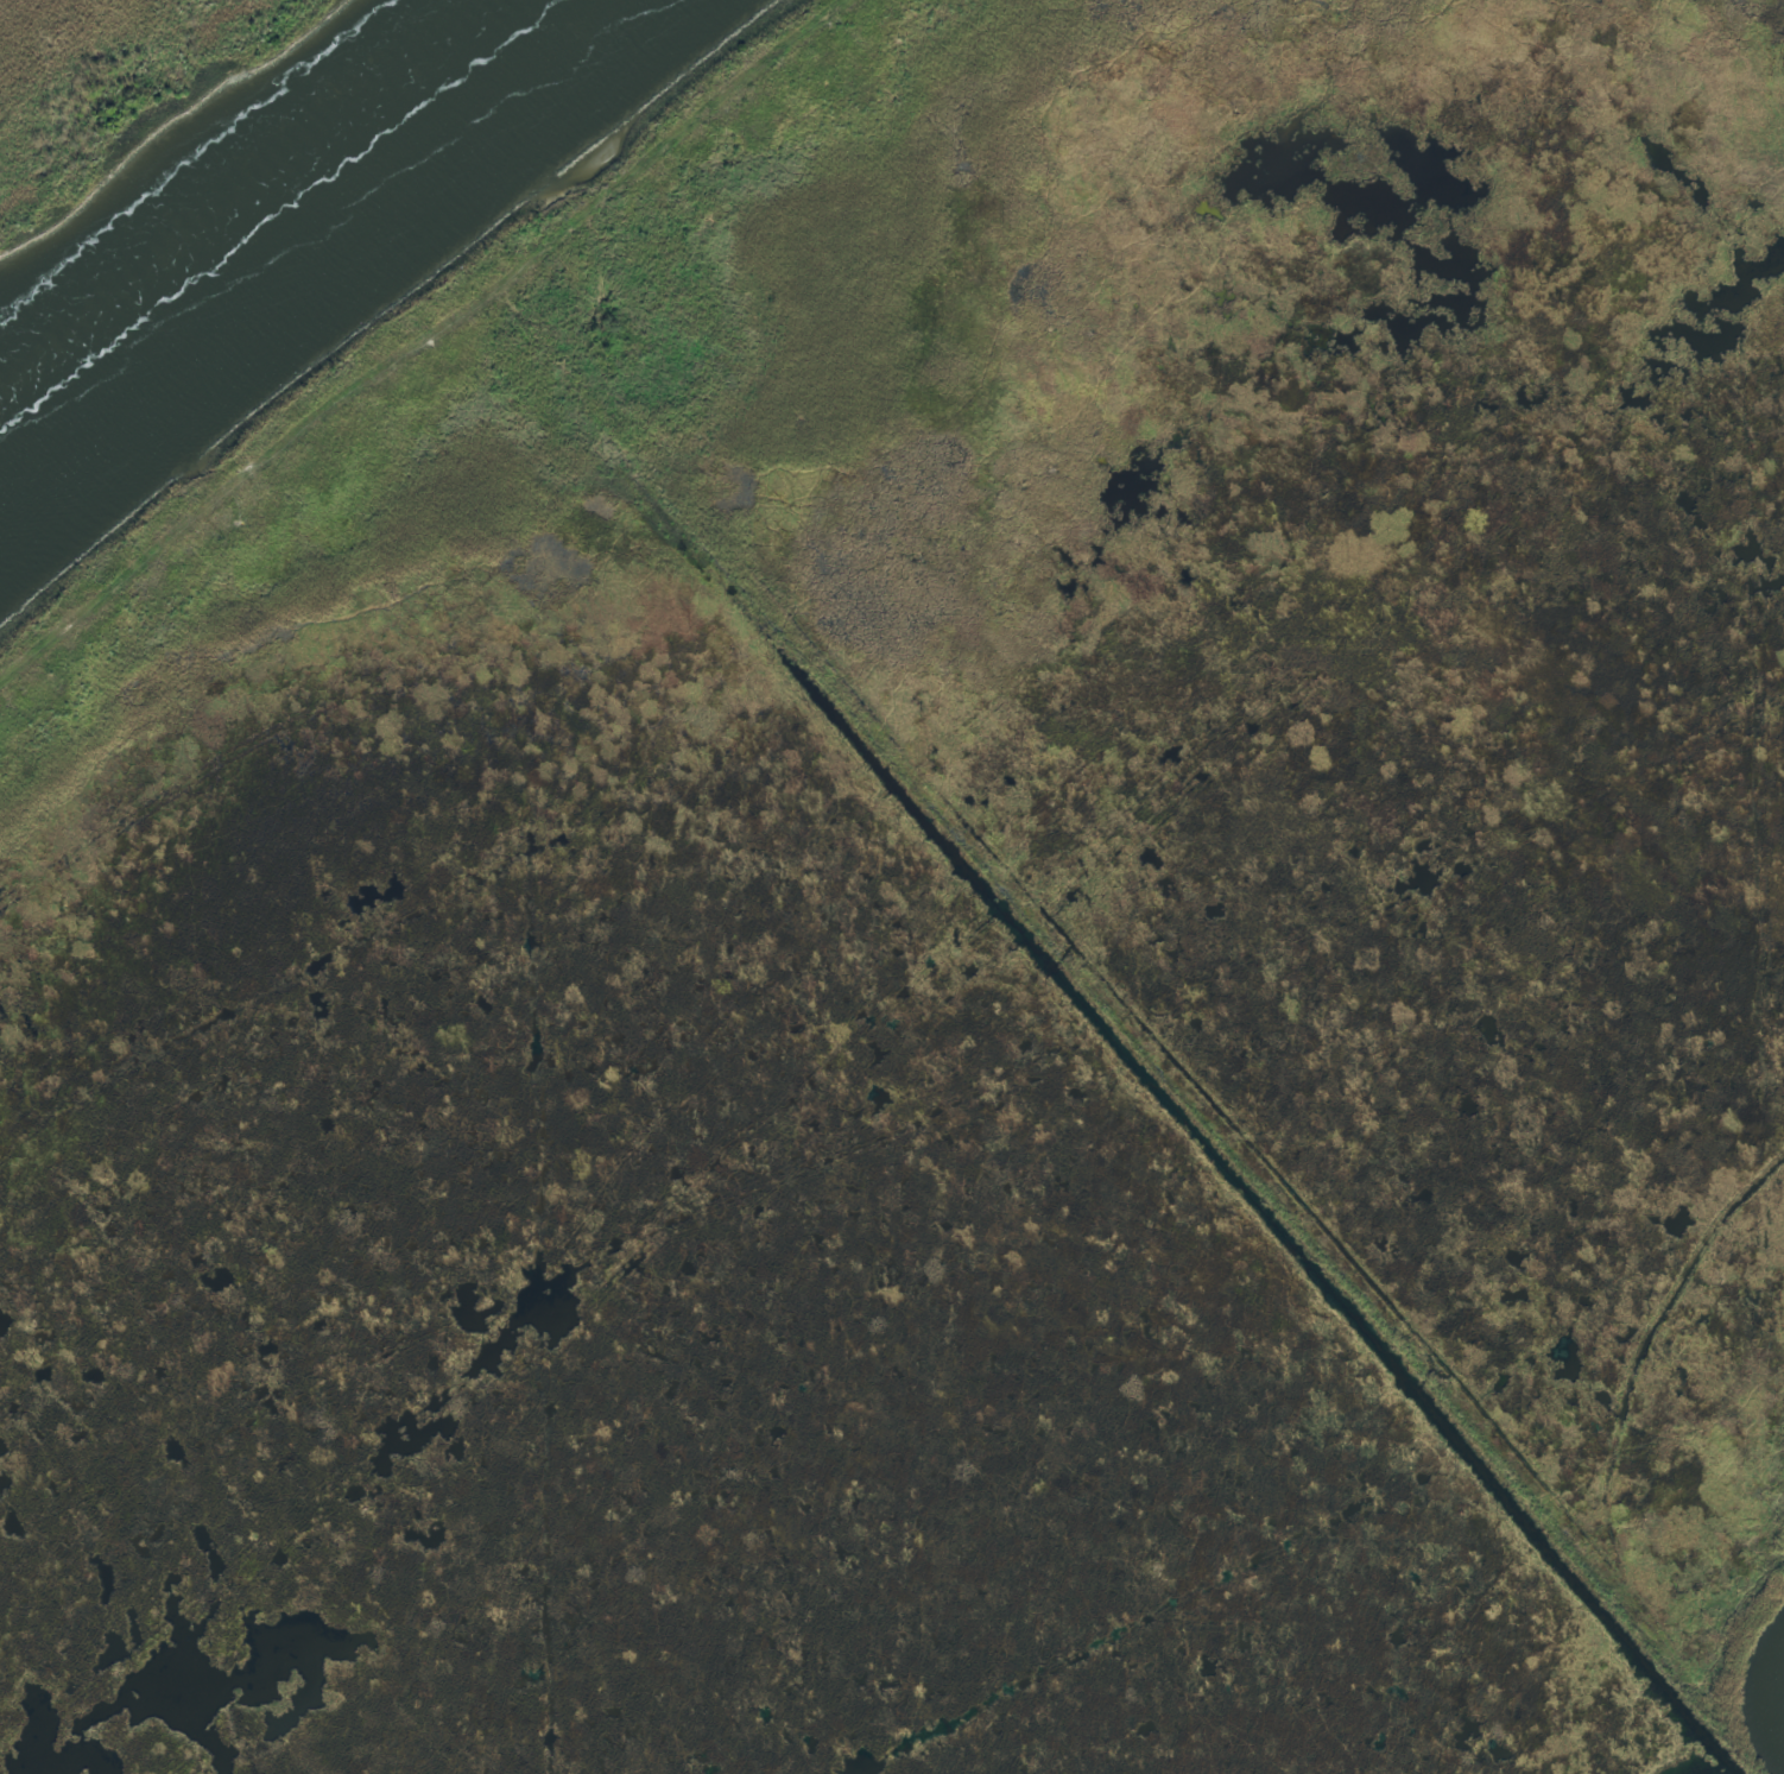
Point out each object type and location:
road: (443, 348)

